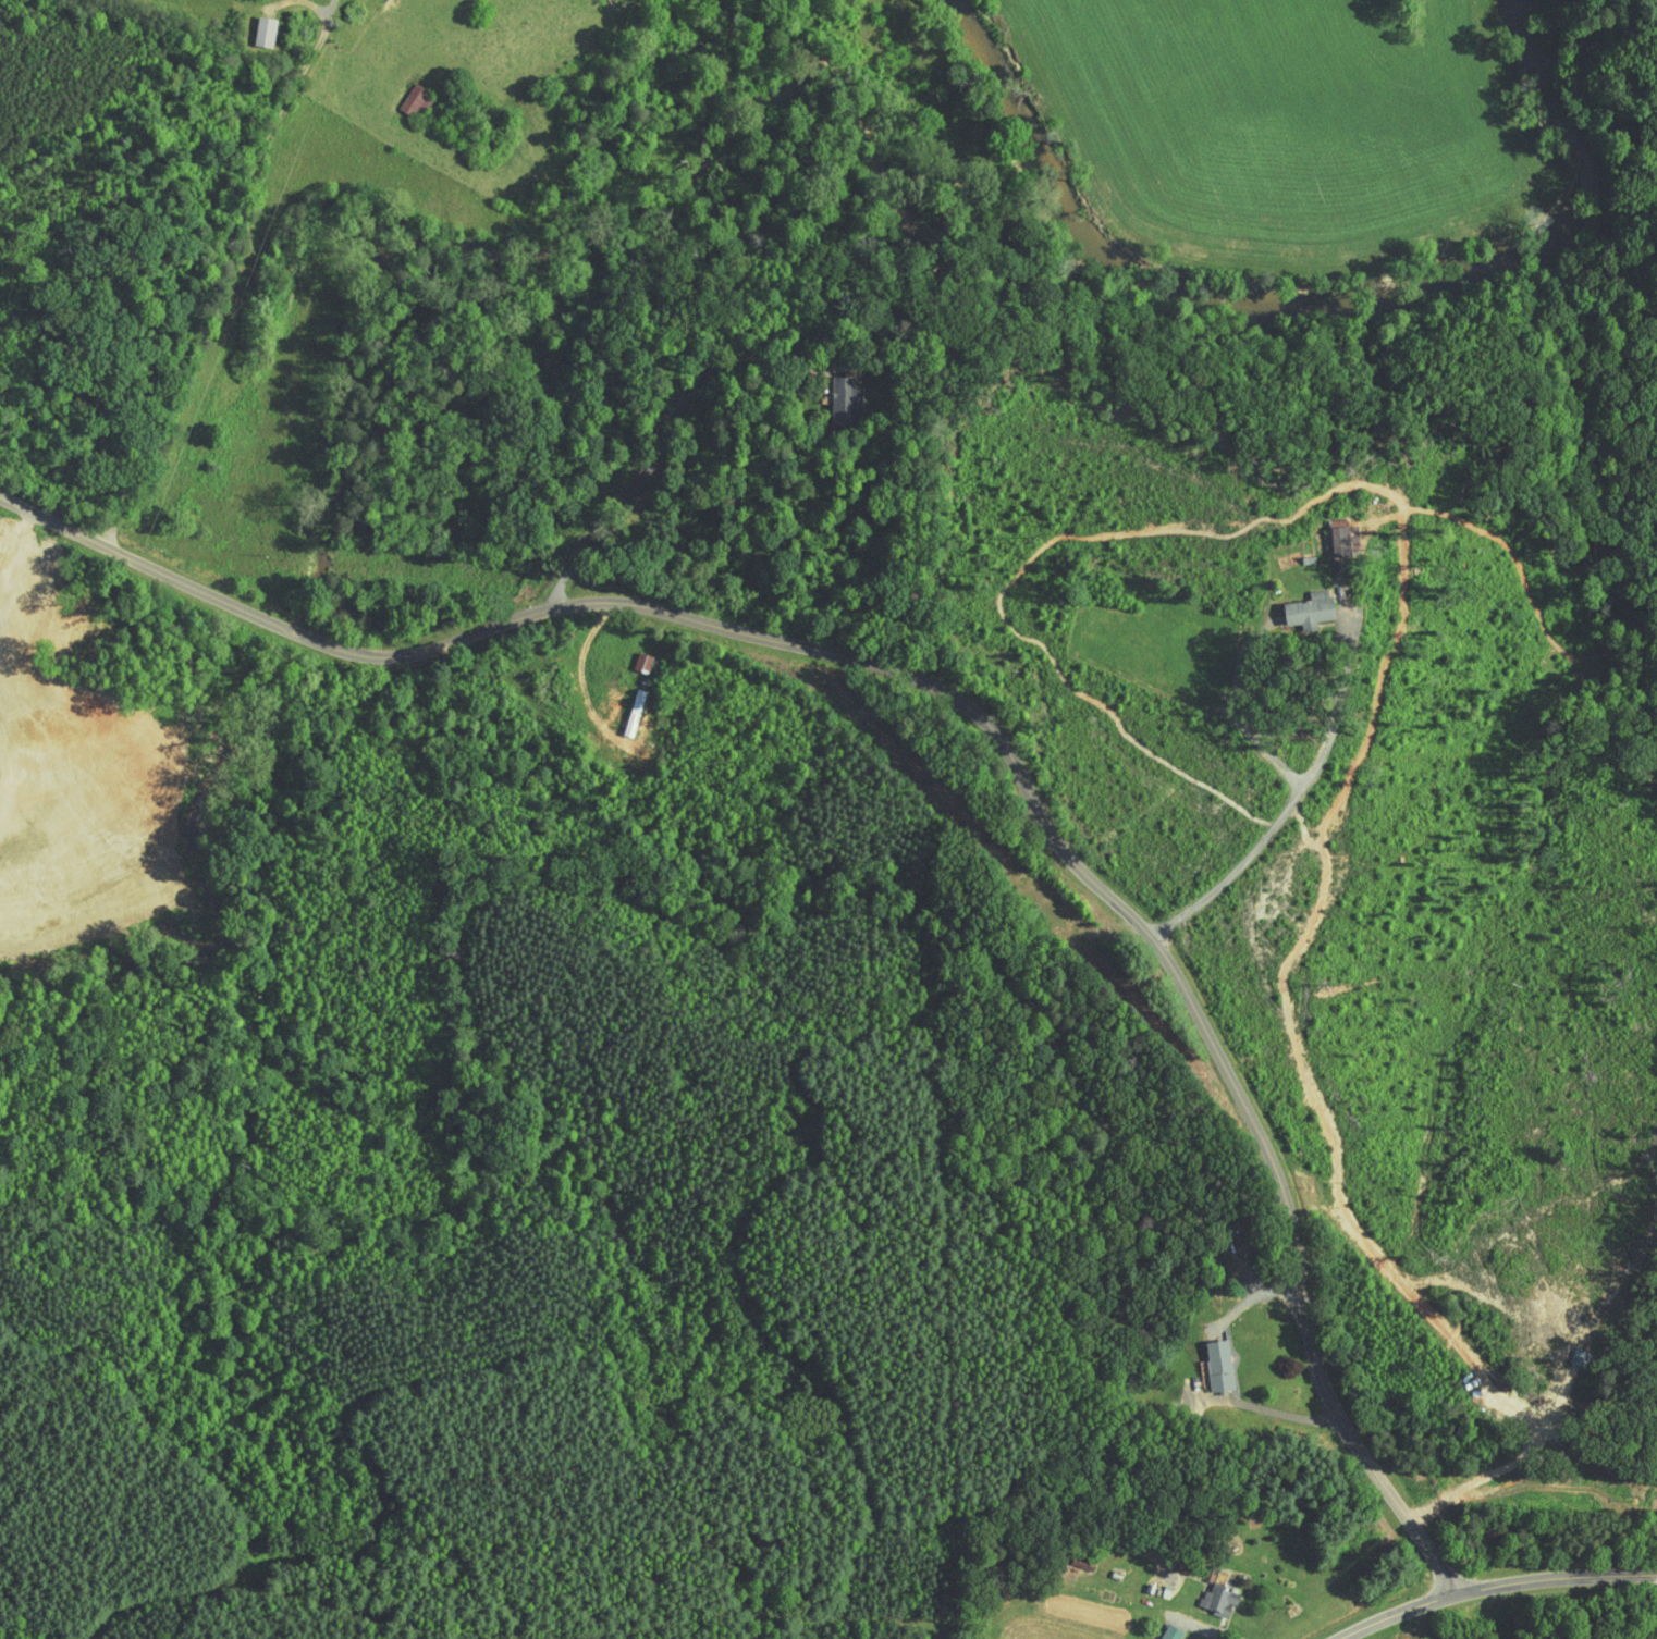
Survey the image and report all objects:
building: (251, 25)
building: (398, 95)
river: (1008, 115)
river: (1436, 273)
road: (235, 274)
building: (827, 395)
road: (665, 428)
building: (1326, 531)
building: (1294, 603)
building: (629, 655)
road: (567, 667)
road: (978, 703)
building: (622, 705)
road: (1237, 719)
road: (1299, 794)
building: (1204, 1359)
building: (1068, 1555)
road: (1560, 1577)
building: (1204, 1593)
road: (1401, 1611)
building: (1156, 1629)

